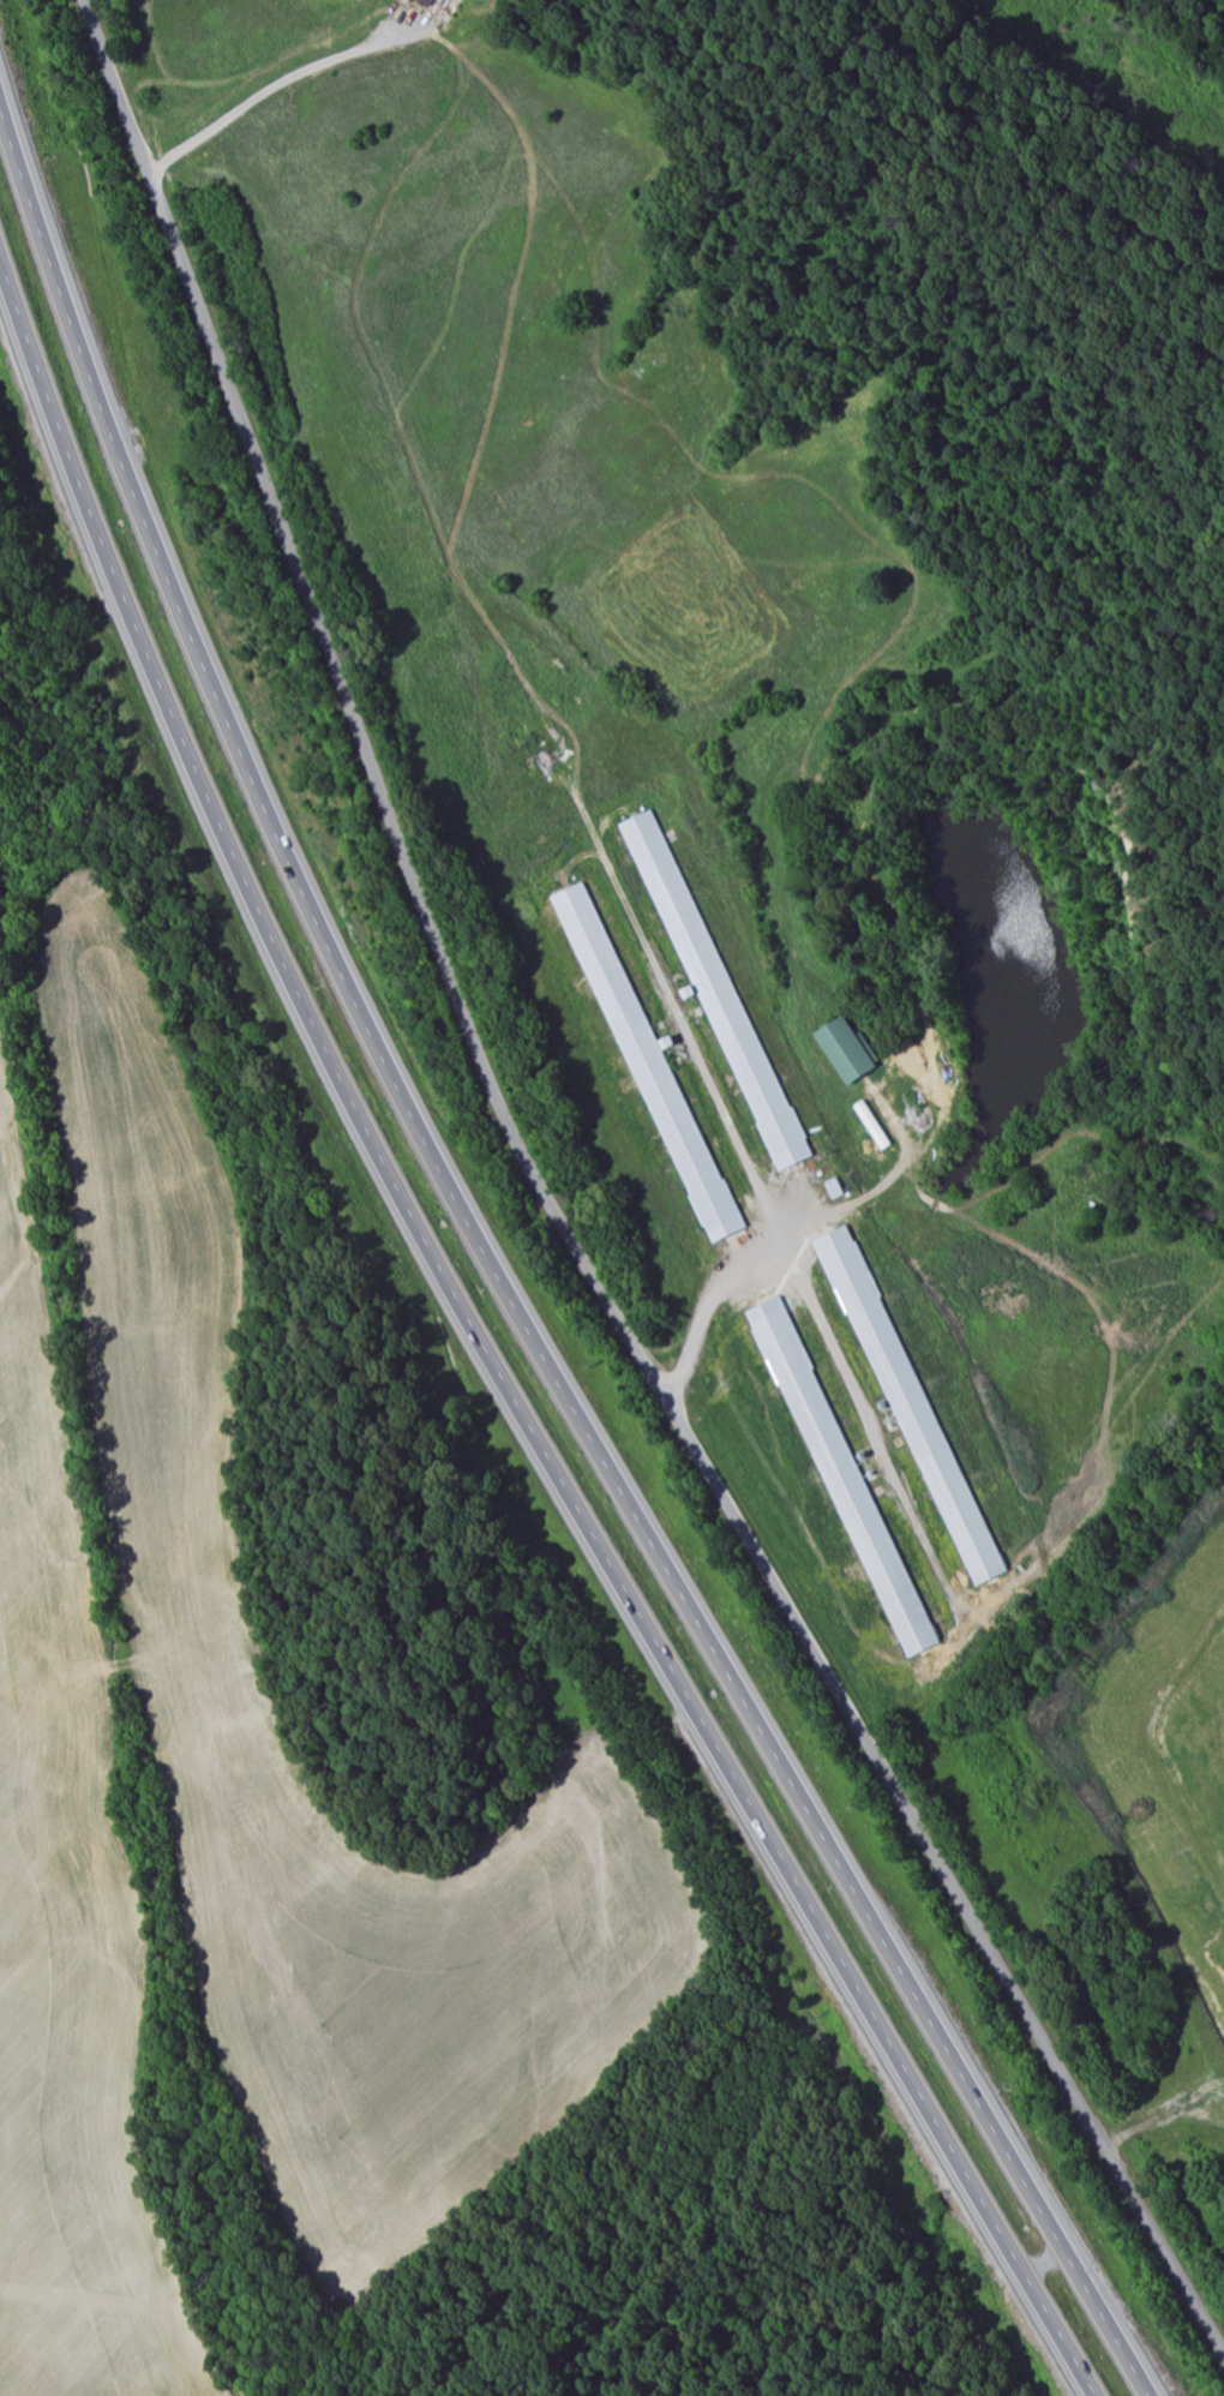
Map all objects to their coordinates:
building: (424, 2)
road: (278, 83)
building: (715, 990)
building: (845, 1050)
building: (648, 1064)
building: (834, 1188)
road: (560, 1221)
road: (503, 1281)
road: (486, 1361)
building: (910, 1403)
building: (841, 1474)
quarry: (1158, 1785)
road: (1150, 2120)
road: (1034, 2244)

